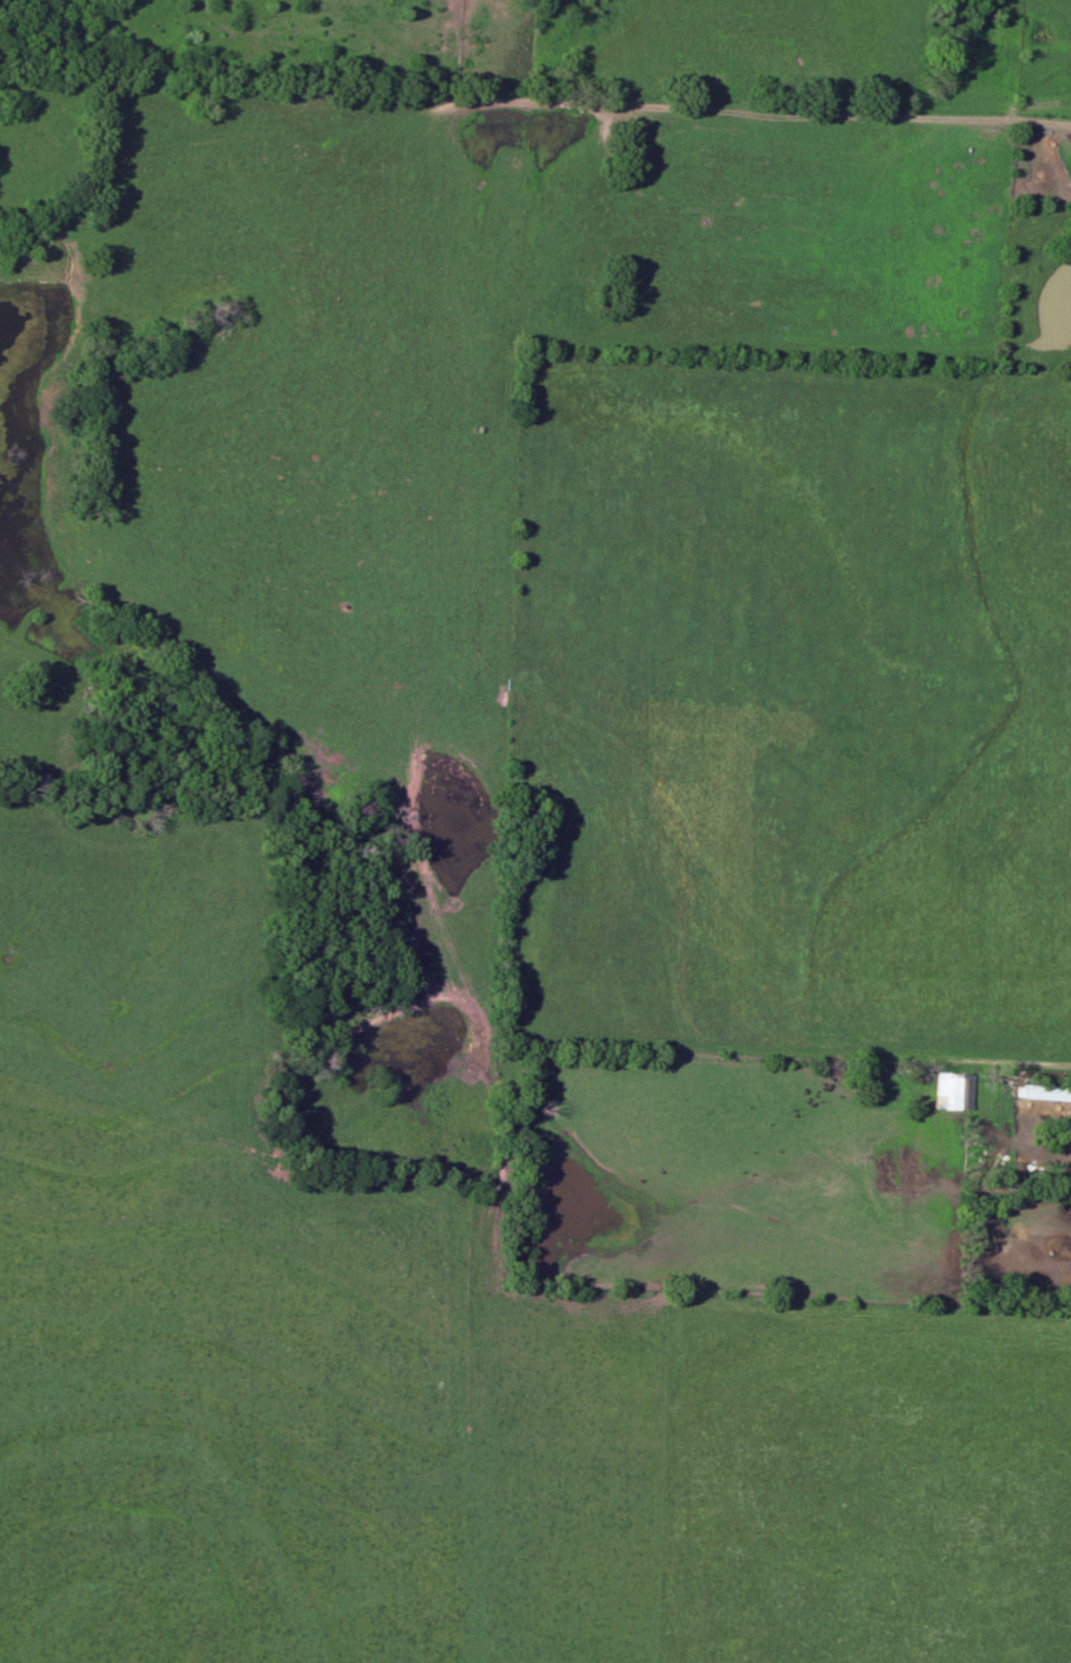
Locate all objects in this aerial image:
building: (951, 1090)
building: (1043, 1091)

